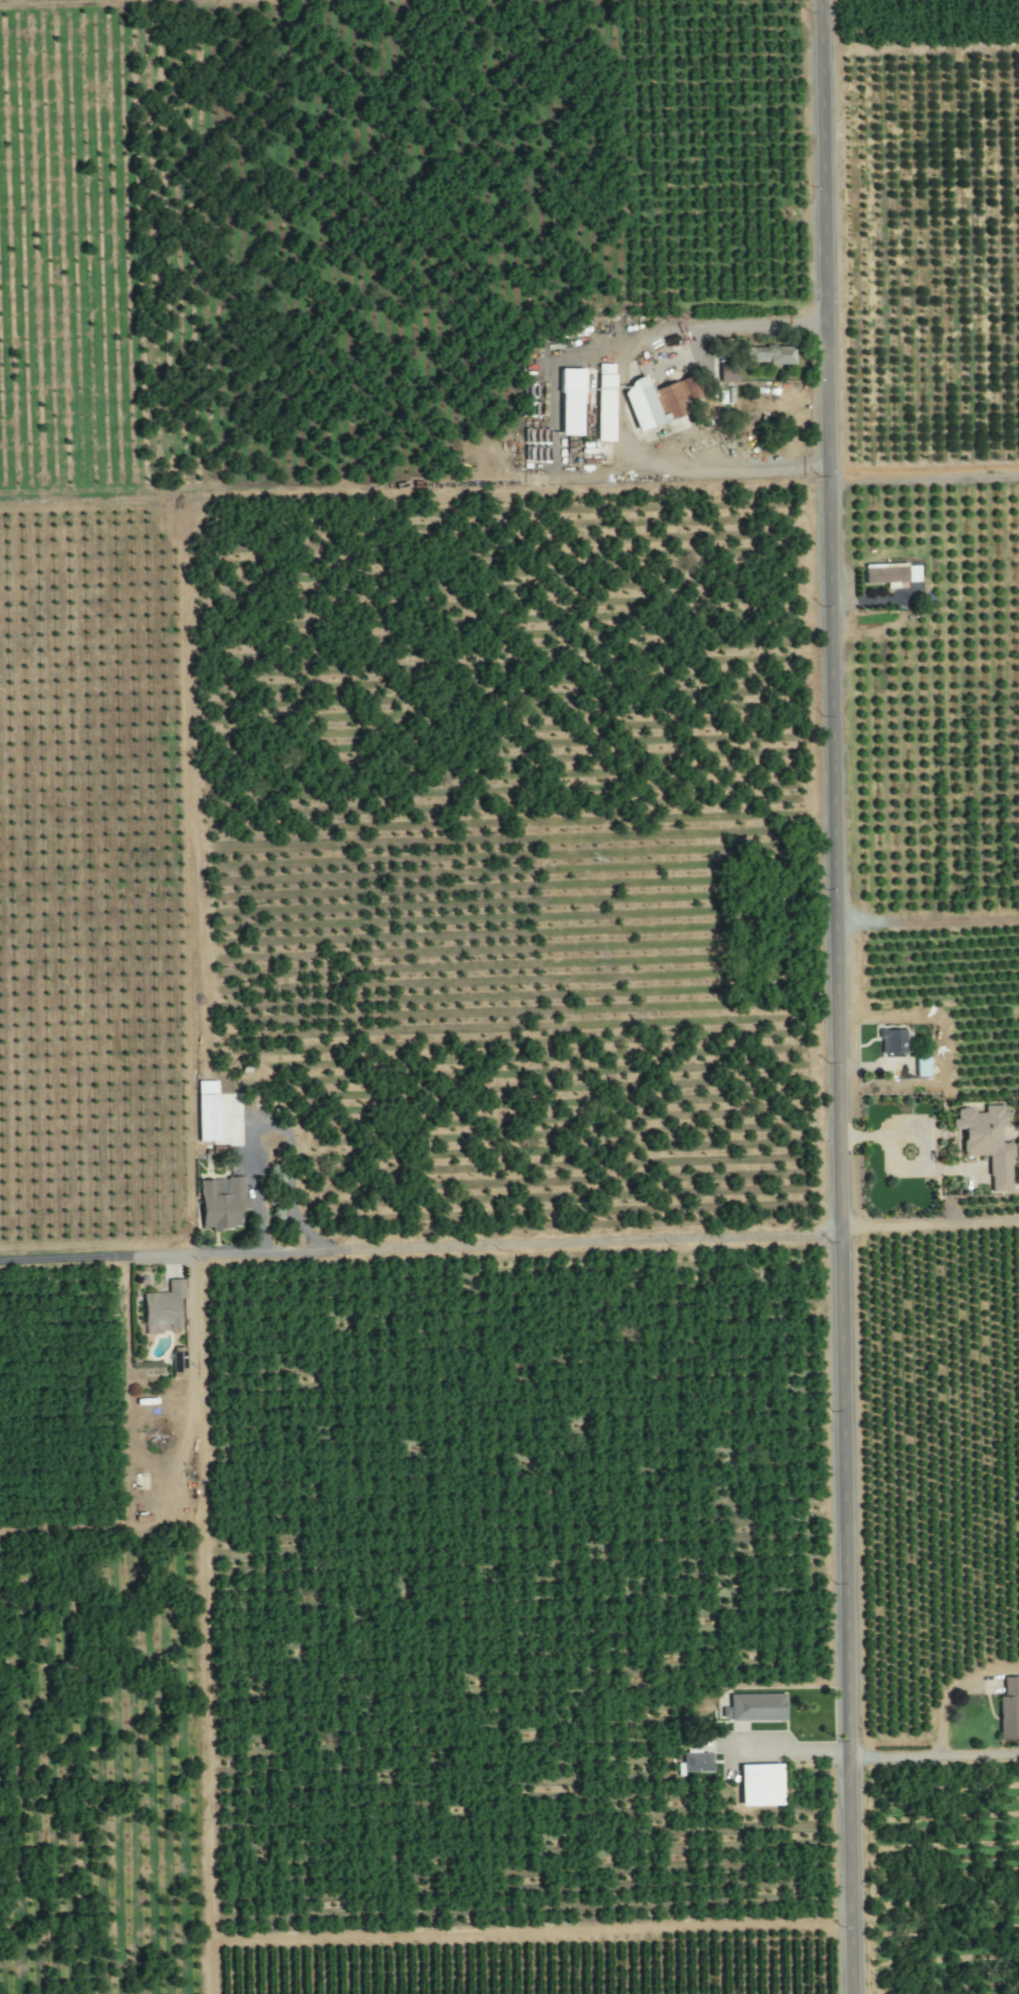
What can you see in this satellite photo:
building: (771, 353)
building: (728, 370)
building: (659, 399)
building: (571, 400)
building: (605, 401)
road: (620, 401)
road: (928, 478)
road: (841, 996)
building: (892, 1040)
road: (940, 1049)
building: (922, 1065)
building: (206, 1109)
road: (923, 1138)
building: (987, 1141)
road: (254, 1183)
building: (221, 1201)
road: (932, 1221)
road: (423, 1248)
building: (164, 1306)
building: (178, 1362)
building: (754, 1706)
building: (1009, 1707)
road: (784, 1750)
road: (936, 1752)
building: (698, 1760)
building: (760, 1783)

